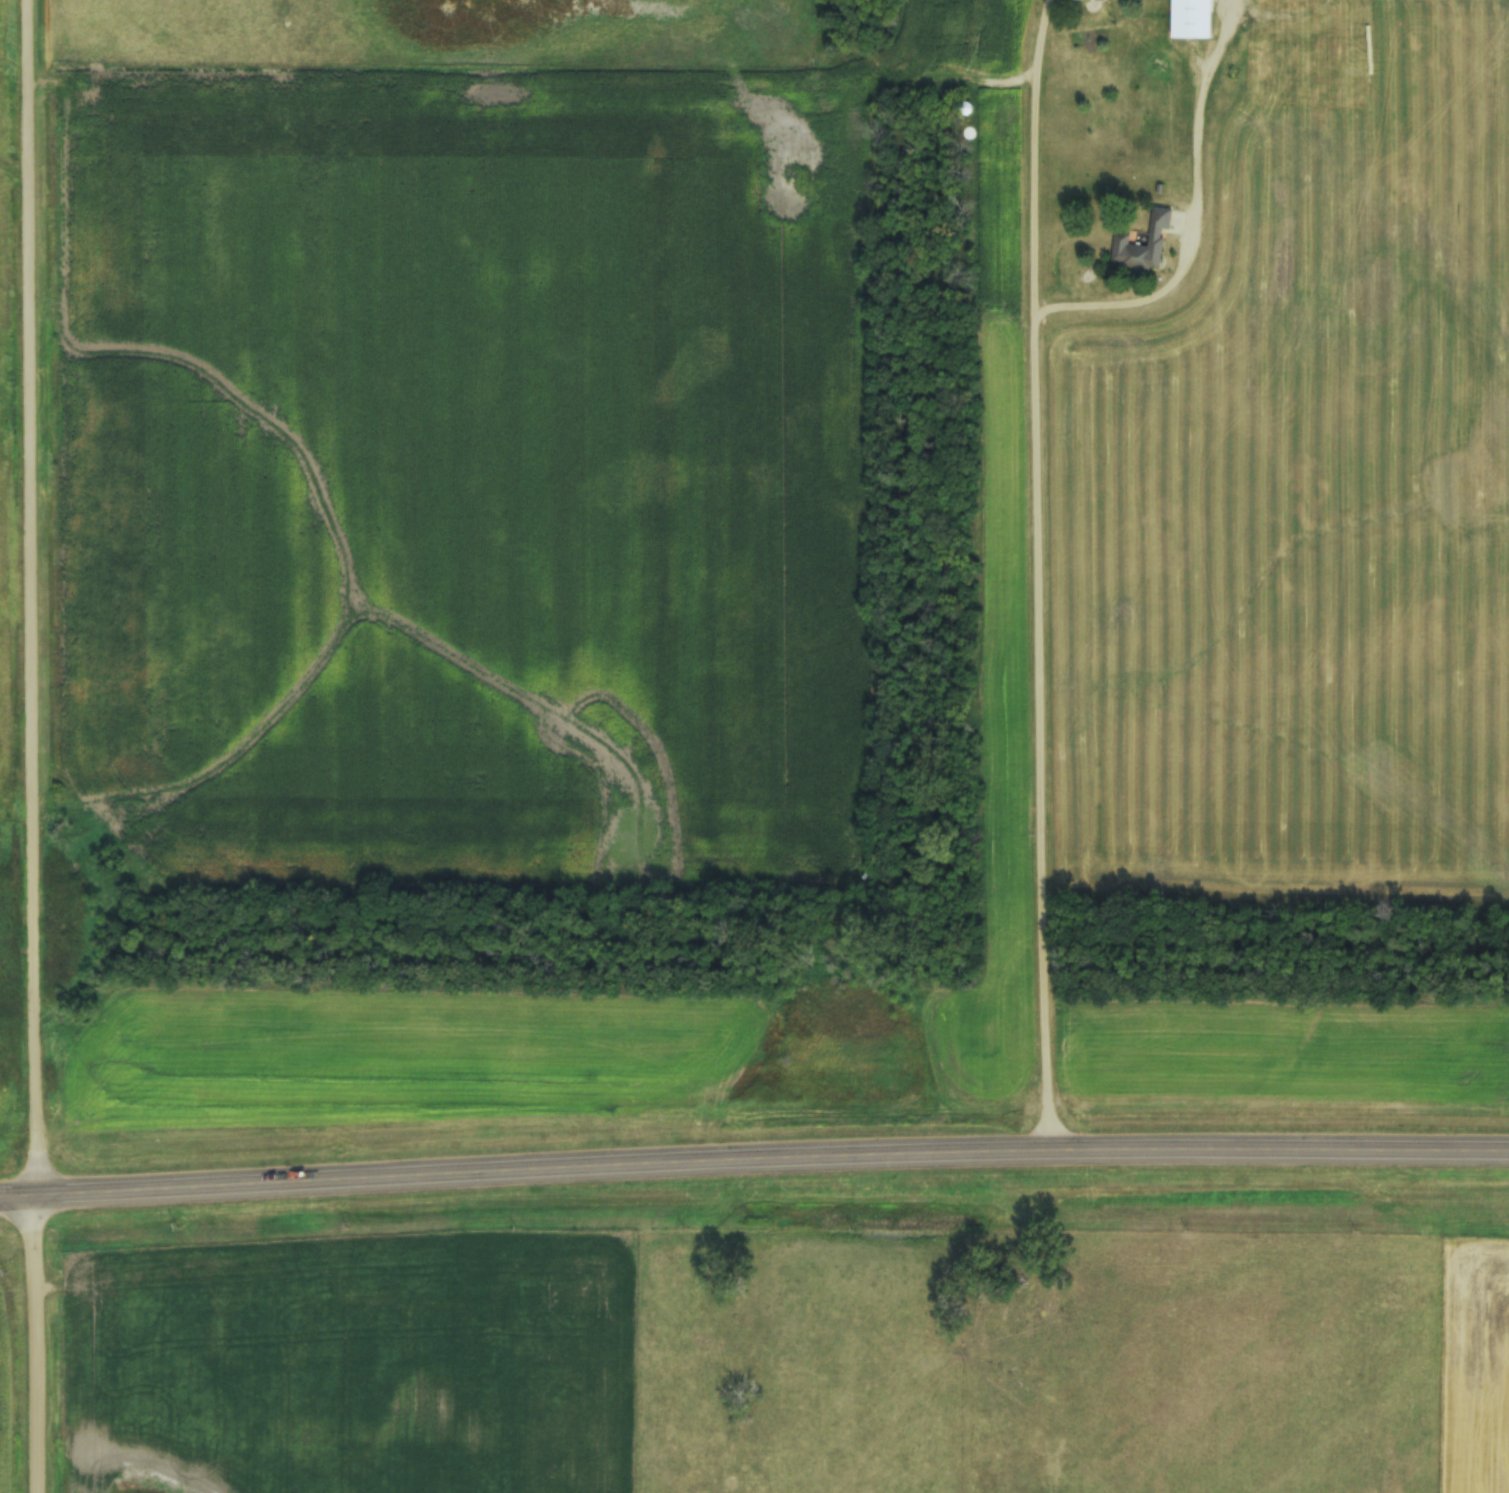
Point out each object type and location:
building: (1076, 0)
building: (1193, 19)
road: (1193, 214)
building: (1142, 246)
road: (1041, 575)
road: (33, 746)
road: (753, 1155)

